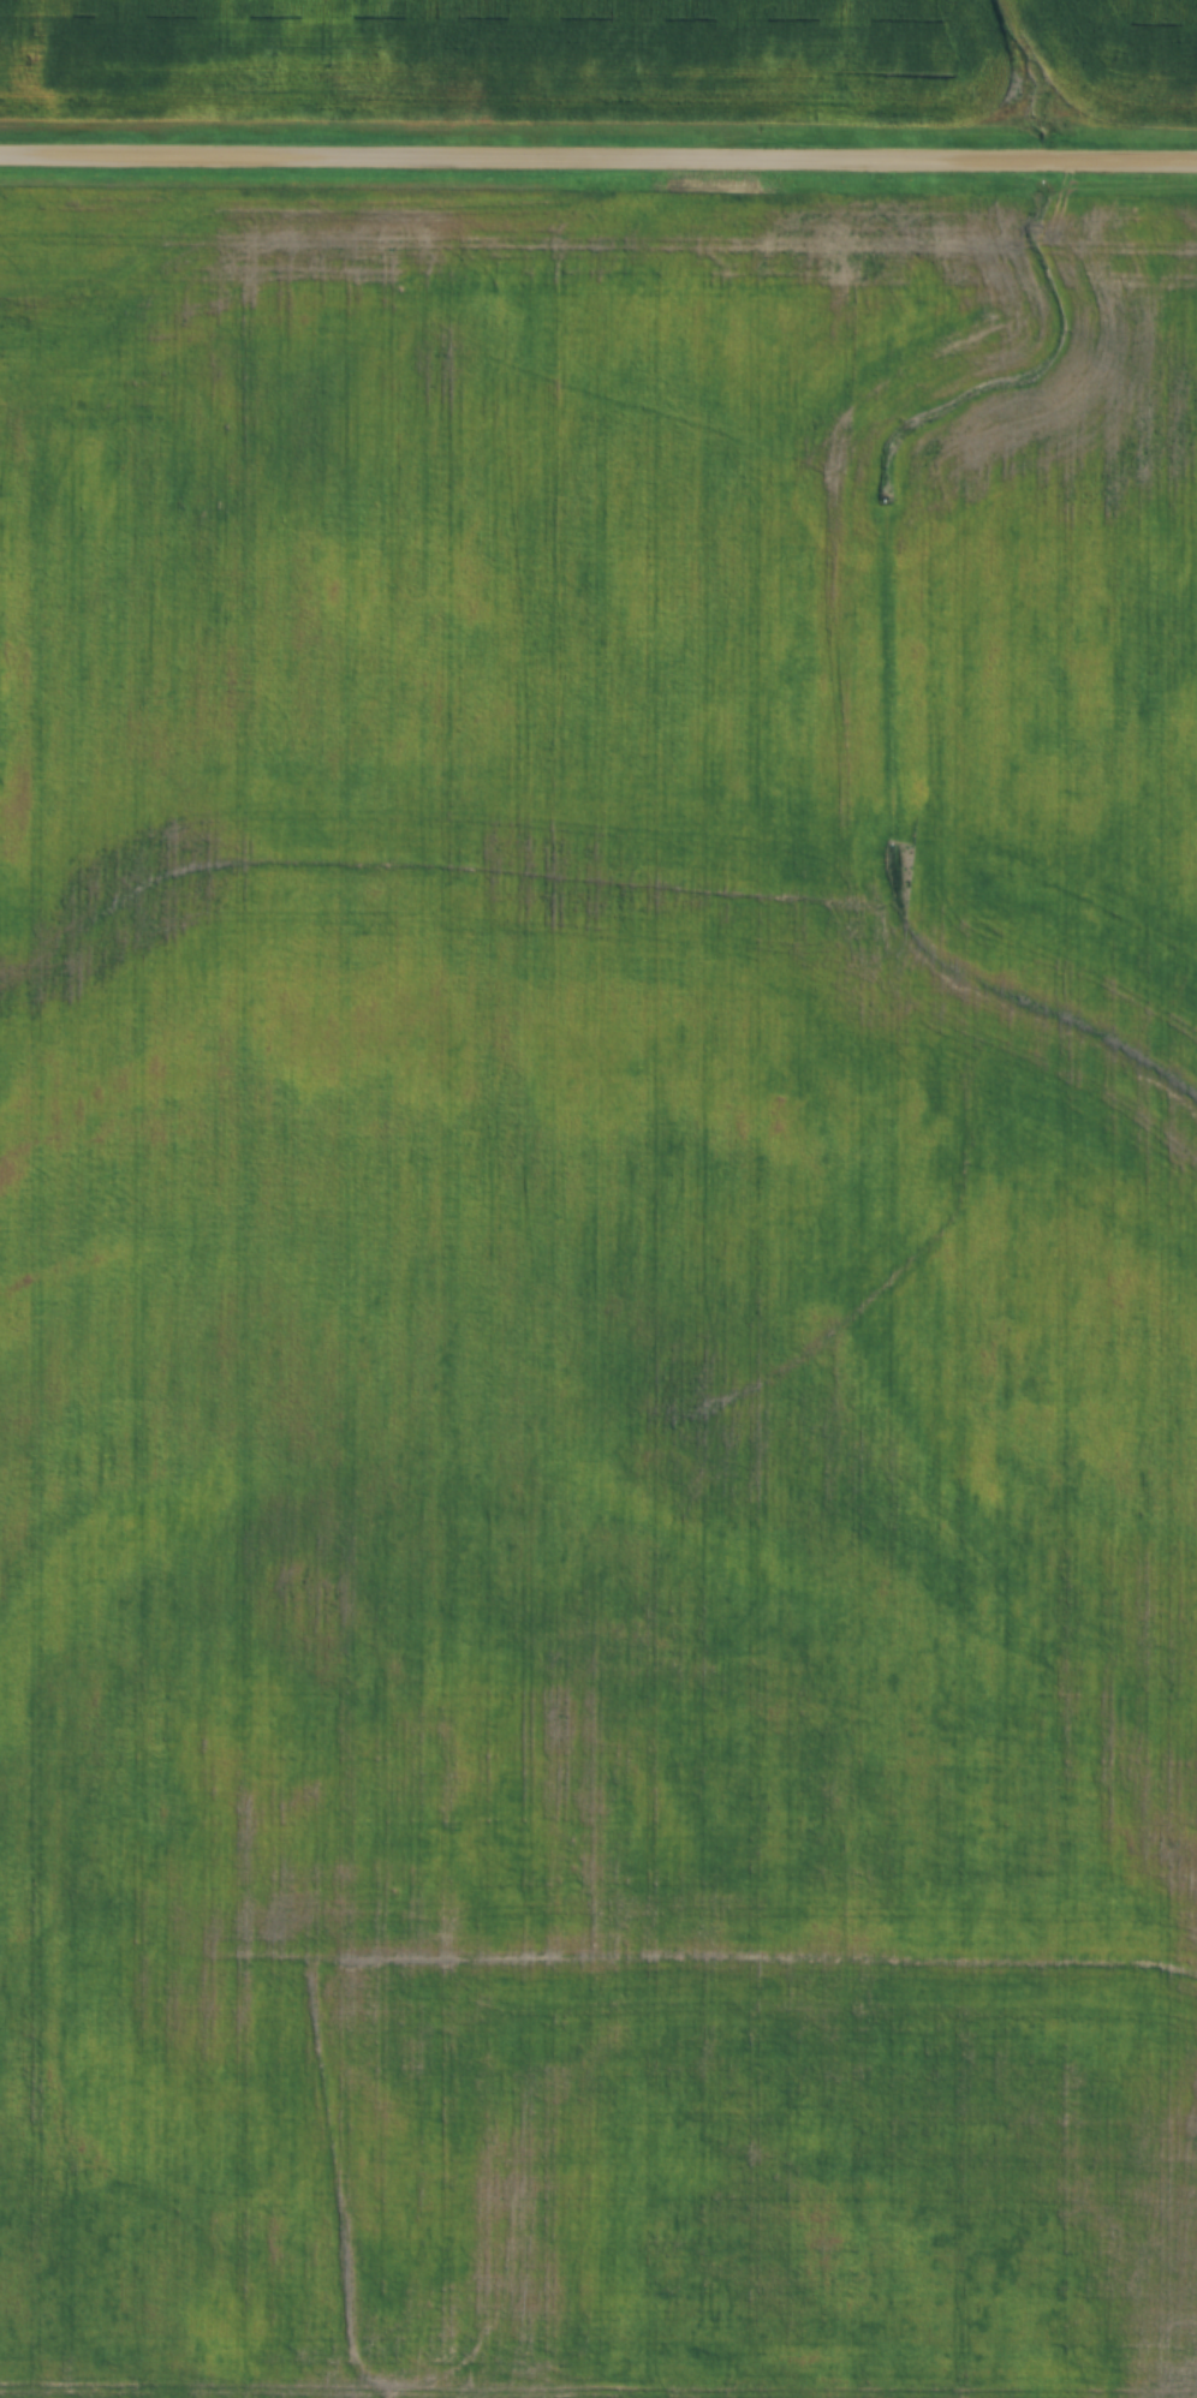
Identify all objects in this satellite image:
road: (598, 161)

